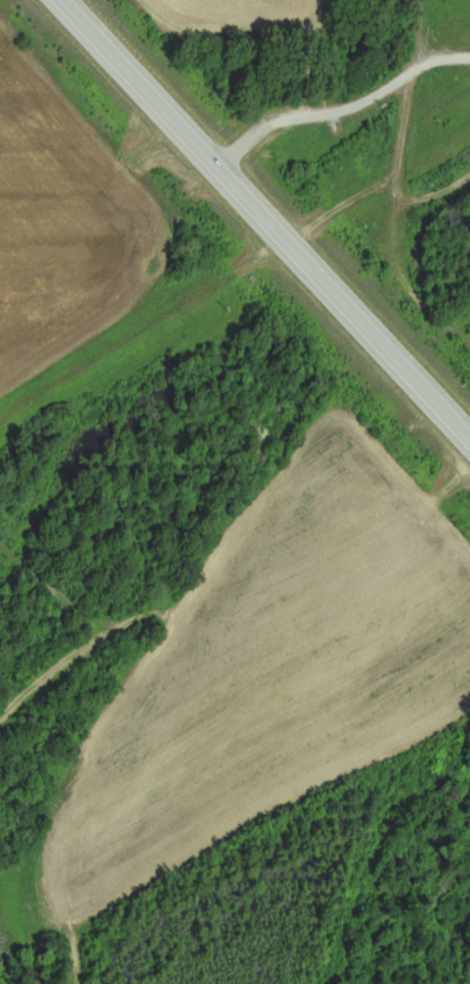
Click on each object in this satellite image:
road: (338, 102)
road: (264, 220)

